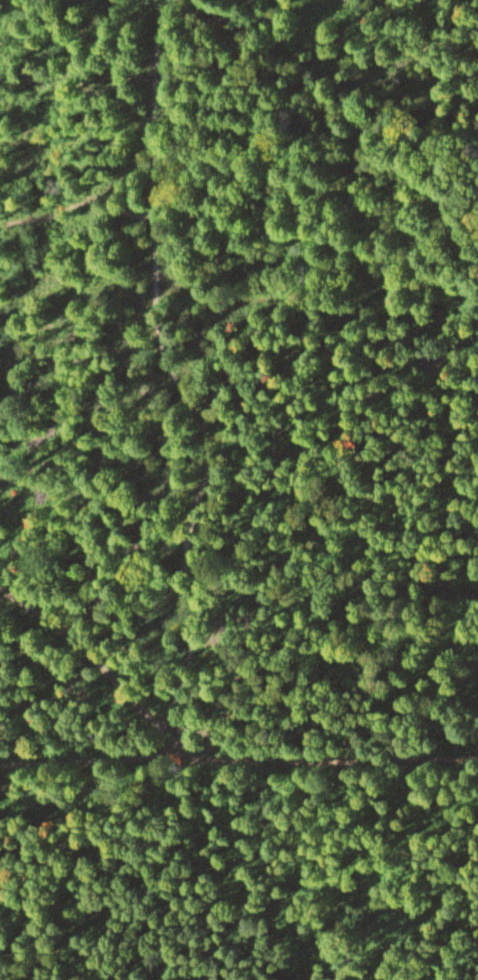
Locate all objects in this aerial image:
road: (238, 758)

